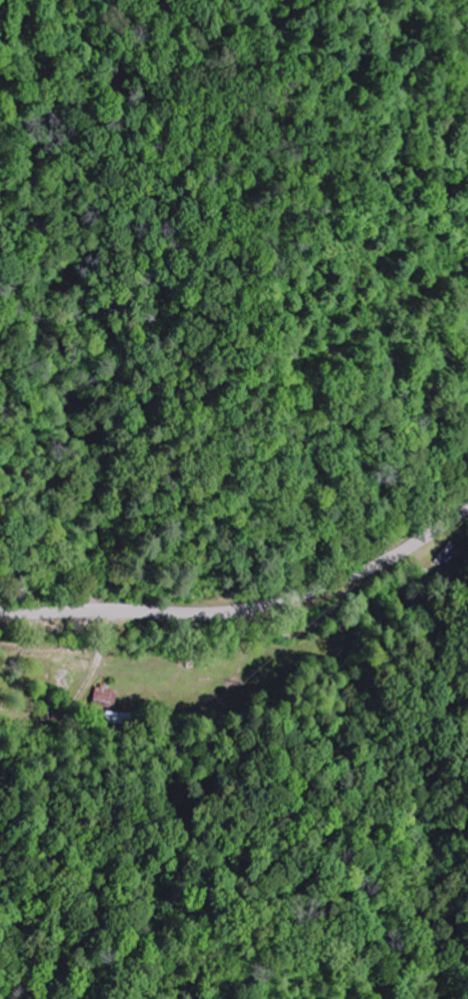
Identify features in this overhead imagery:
road: (244, 609)

